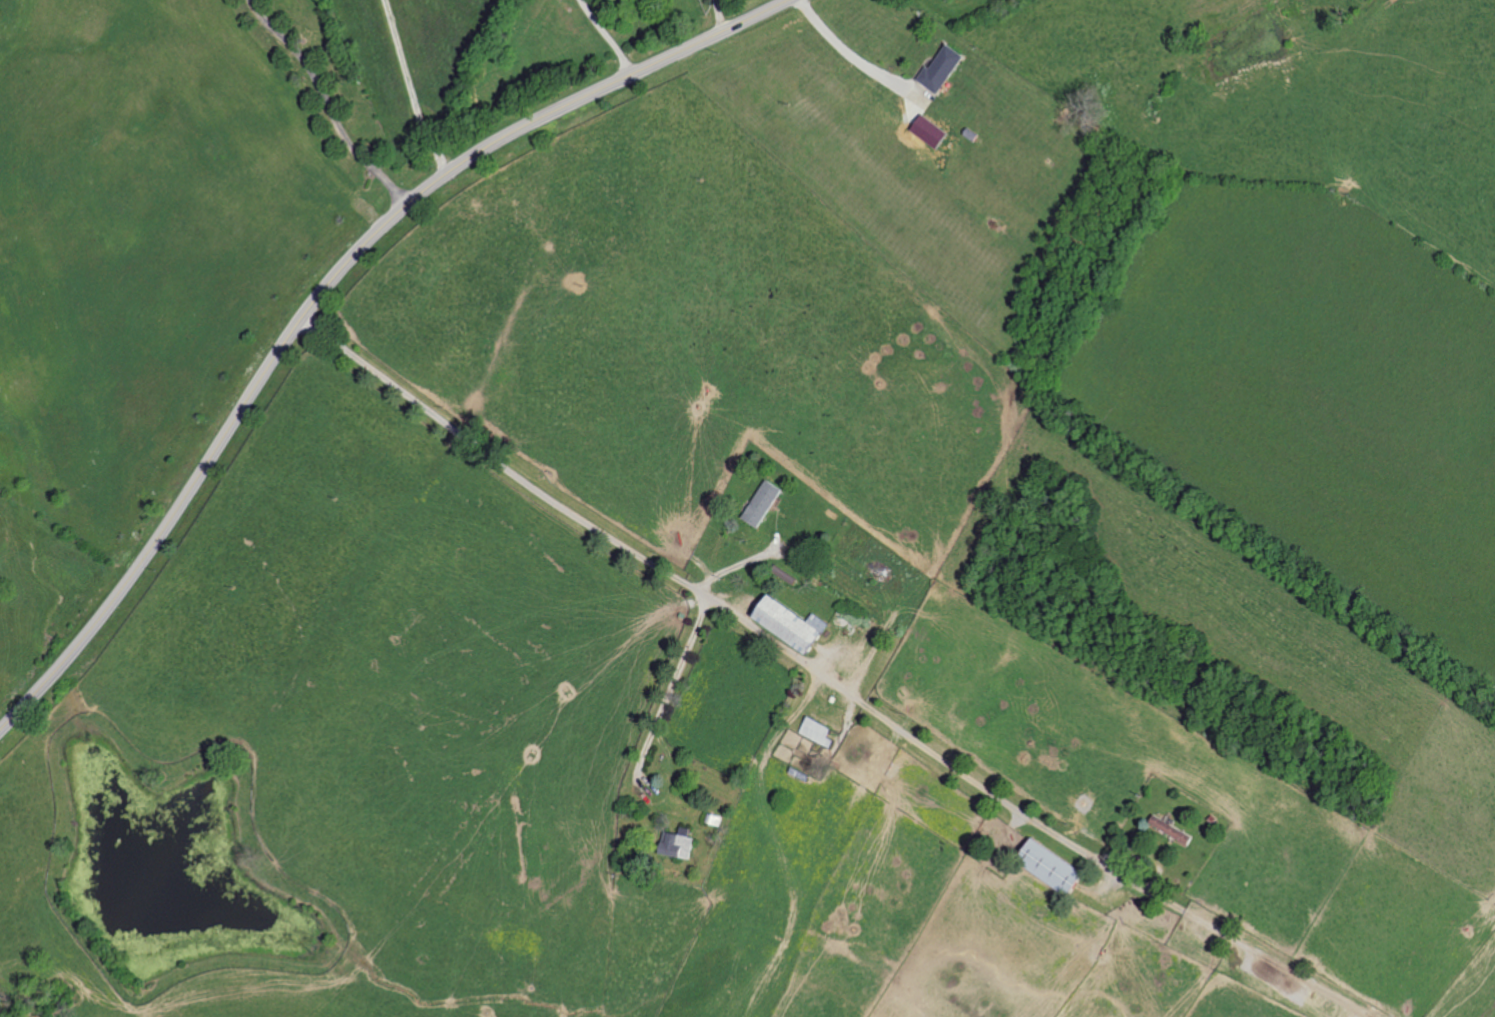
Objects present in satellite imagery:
road: (838, 49)
building: (942, 67)
road: (409, 90)
road: (328, 103)
road: (324, 288)
building: (763, 503)
road: (729, 566)
road: (727, 613)
building: (818, 621)
building: (789, 624)
road: (664, 695)
building: (816, 731)
building: (1171, 830)
building: (676, 845)
building: (1050, 867)
road: (1254, 952)

